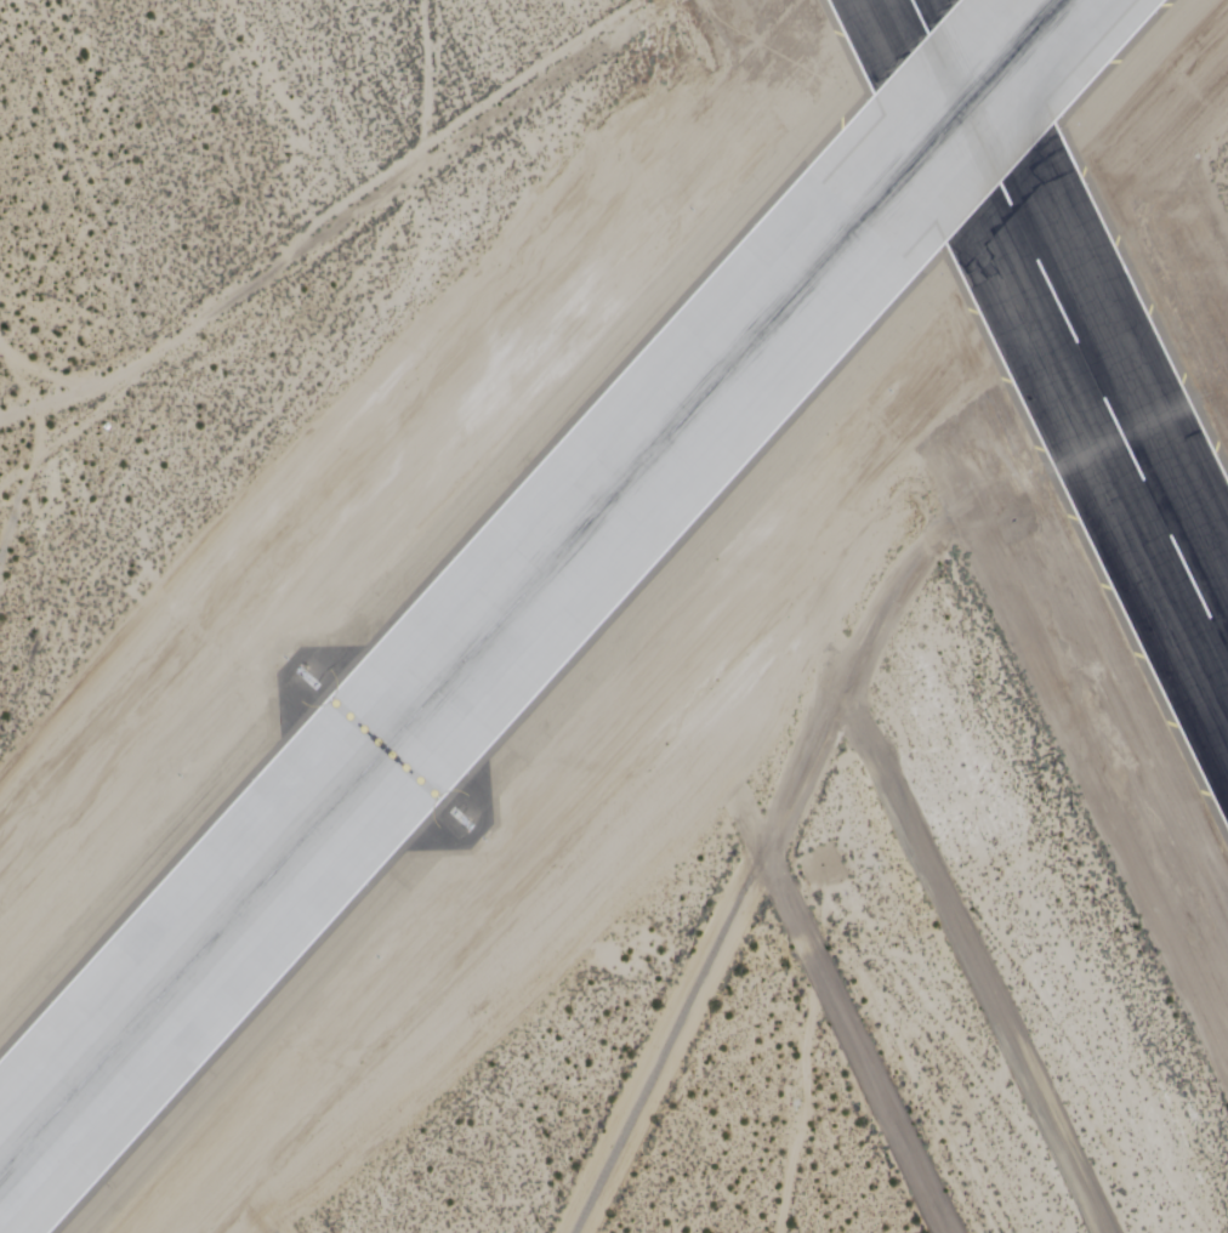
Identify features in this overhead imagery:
building: (1046, 272)
airport runway: (1069, 328)
airport runway: (530, 585)
airport: (614, 616)

